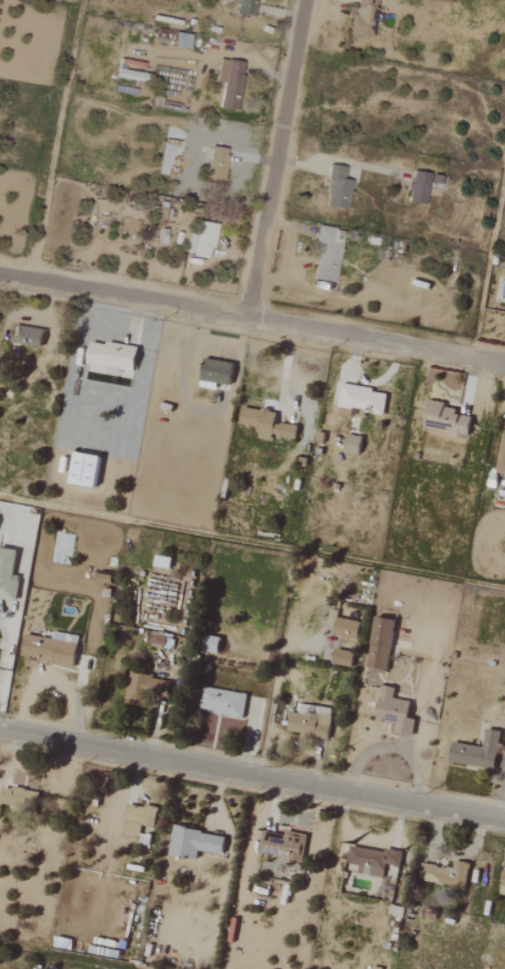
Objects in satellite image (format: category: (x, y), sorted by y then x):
building: (245, 7)
building: (363, 18)
building: (228, 83)
road: (56, 138)
road: (279, 158)
building: (215, 164)
building: (435, 182)
building: (417, 188)
building: (336, 189)
building: (200, 240)
building: (324, 257)
road: (252, 317)
building: (26, 336)
building: (214, 374)
building: (359, 400)
building: (445, 419)
building: (266, 424)
building: (351, 445)
building: (501, 456)
building: (82, 470)
building: (161, 562)
building: (7, 575)
building: (103, 577)
building: (331, 619)
building: (345, 628)
building: (156, 639)
road: (90, 643)
building: (210, 644)
building: (379, 645)
building: (48, 650)
building: (341, 657)
building: (144, 689)
road: (273, 689)
building: (221, 702)
building: (393, 711)
building: (308, 723)
building: (476, 751)
road: (252, 770)
building: (18, 797)
building: (137, 818)
building: (193, 842)
building: (282, 845)
building: (371, 860)
building: (444, 874)
building: (503, 880)

